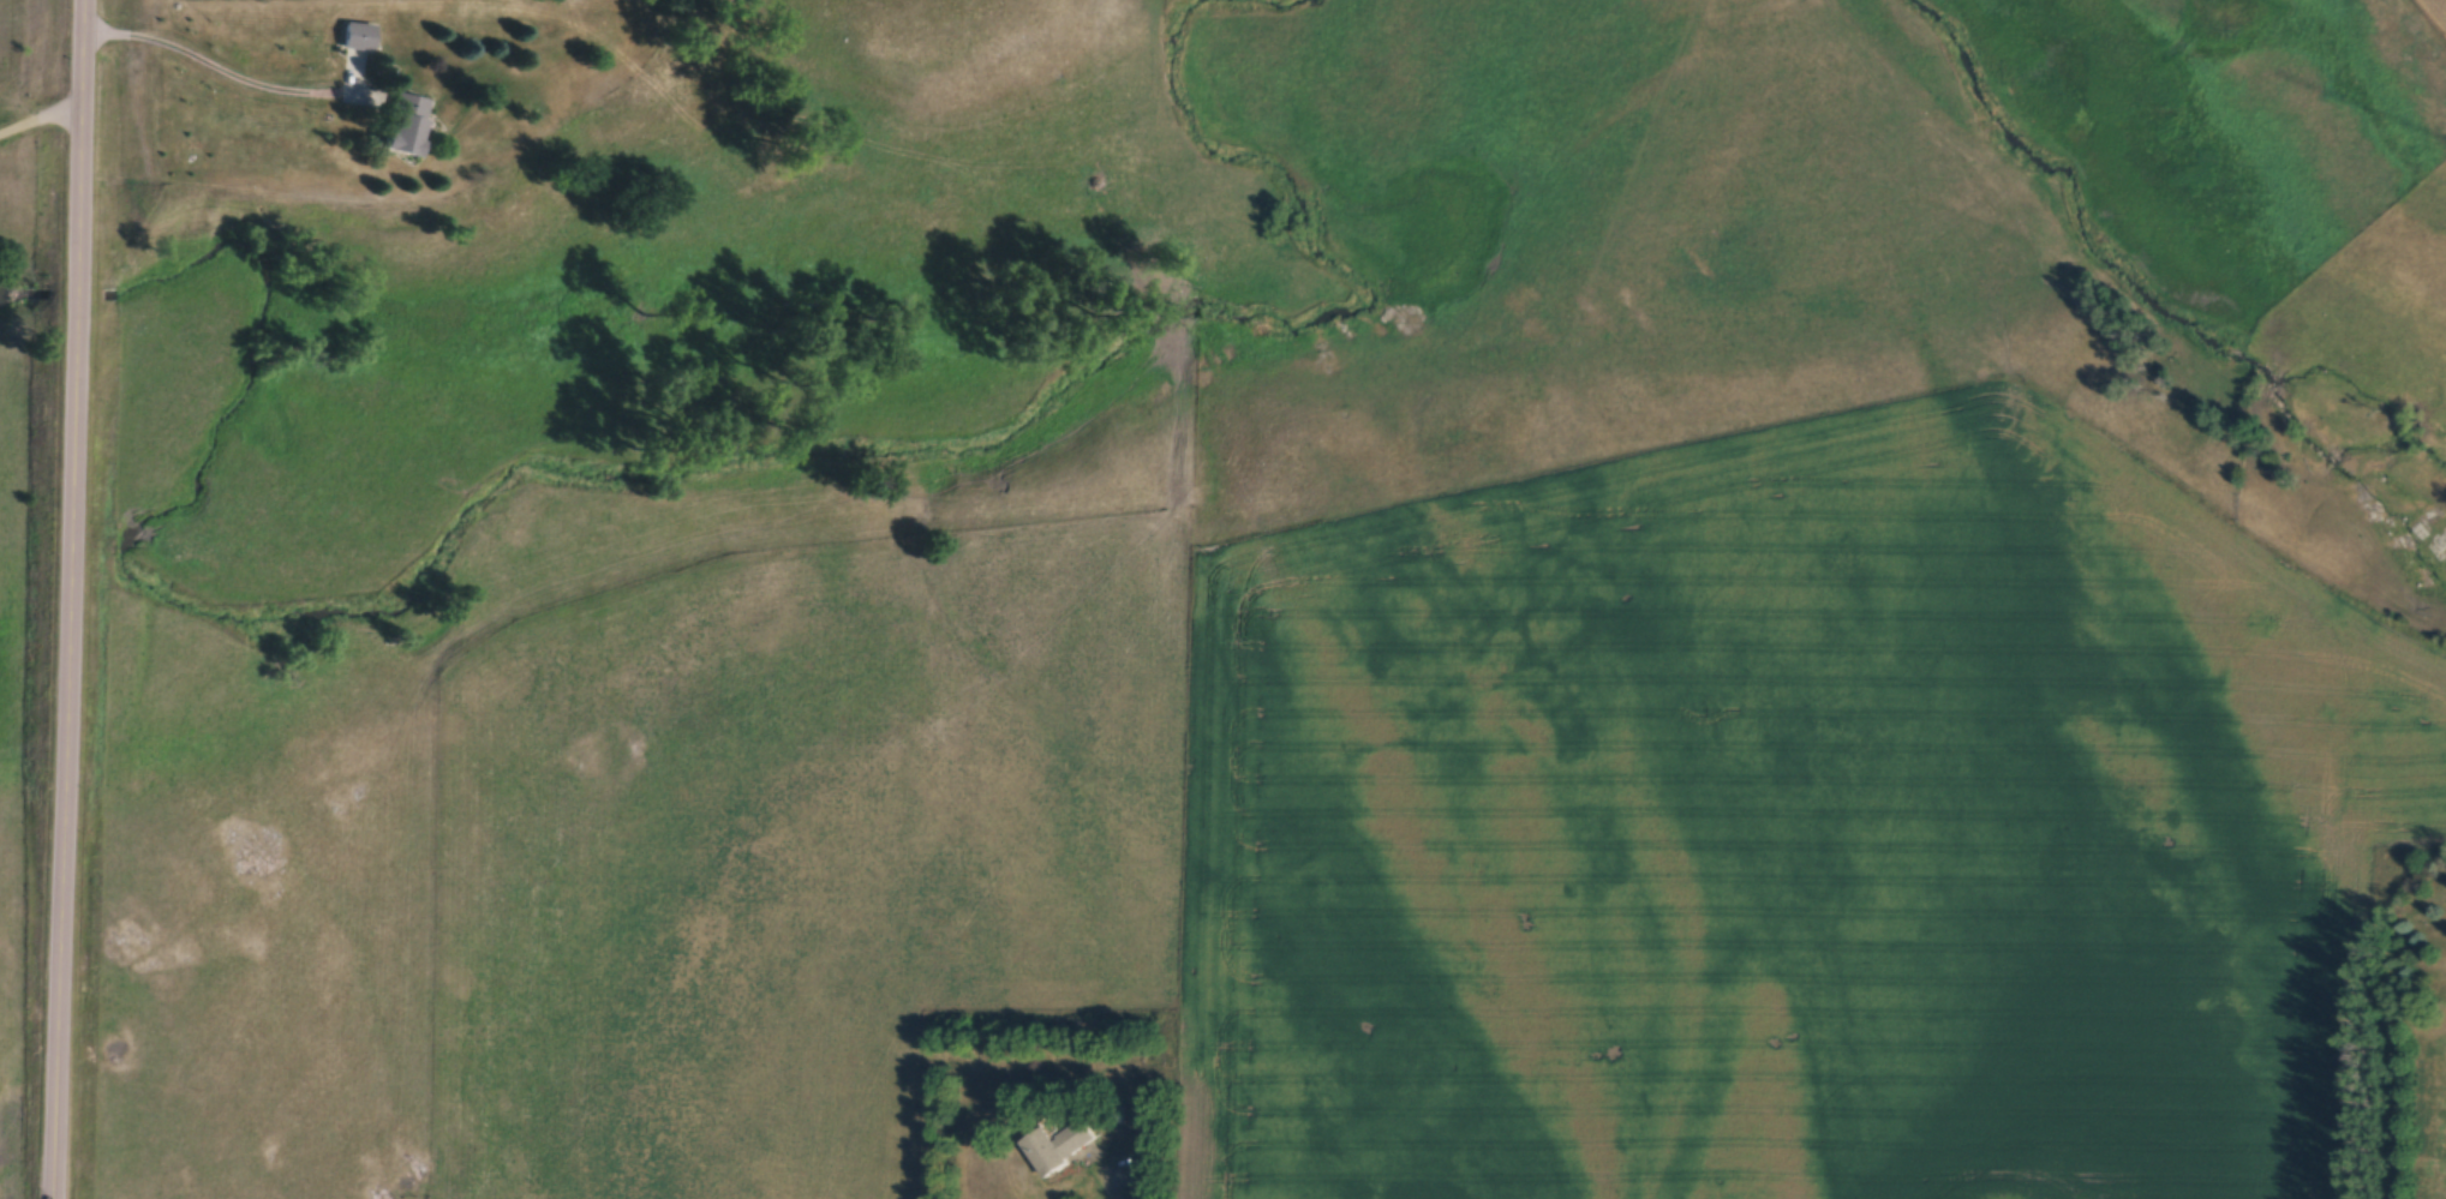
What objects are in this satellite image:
building: (355, 36)
road: (208, 67)
road: (40, 120)
building: (401, 125)
road: (66, 599)
building: (1055, 1149)
road: (1110, 1187)

